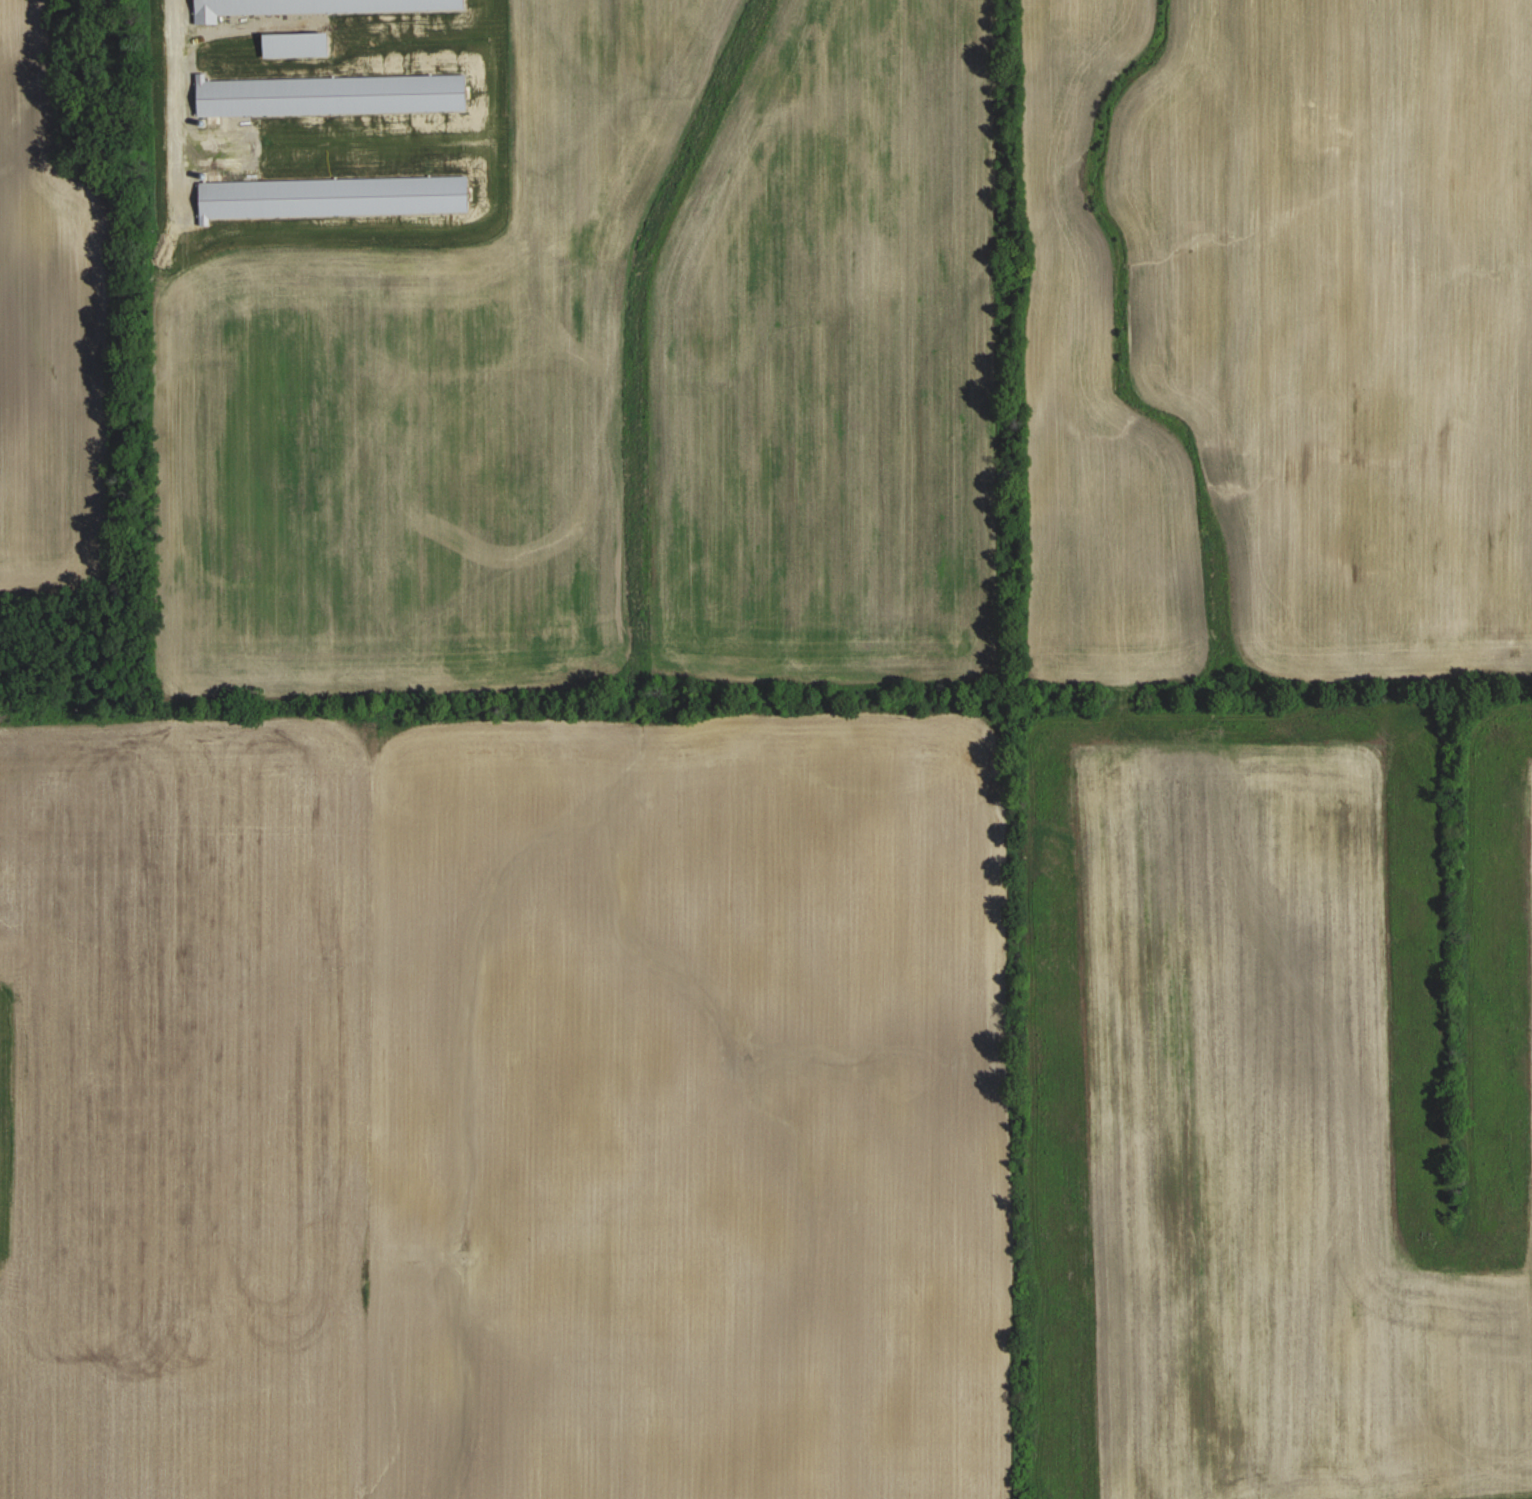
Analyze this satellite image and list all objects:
road: (173, 100)

